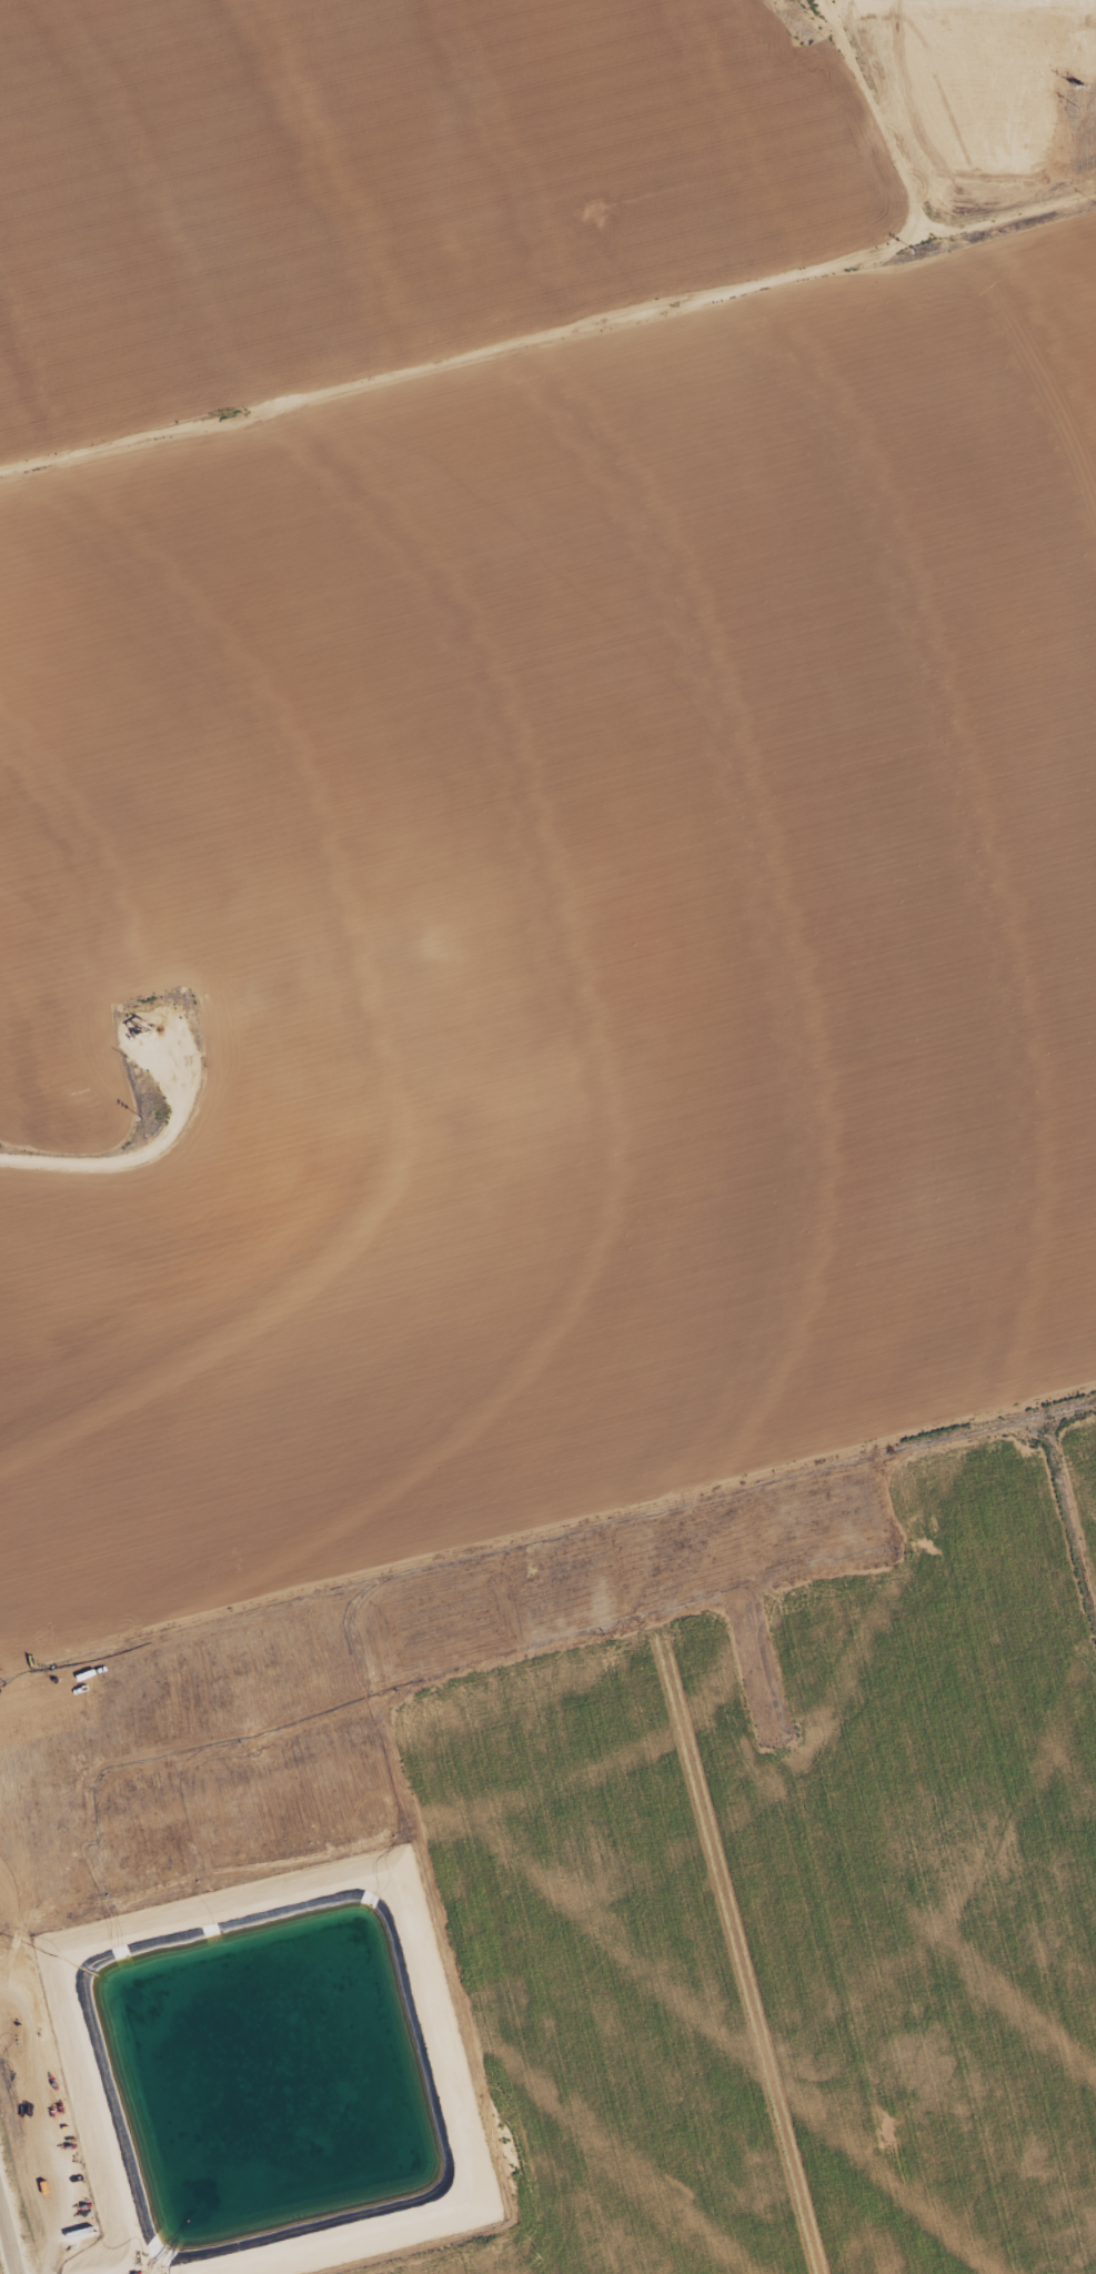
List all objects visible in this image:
road: (547, 359)
road: (8, 2242)

